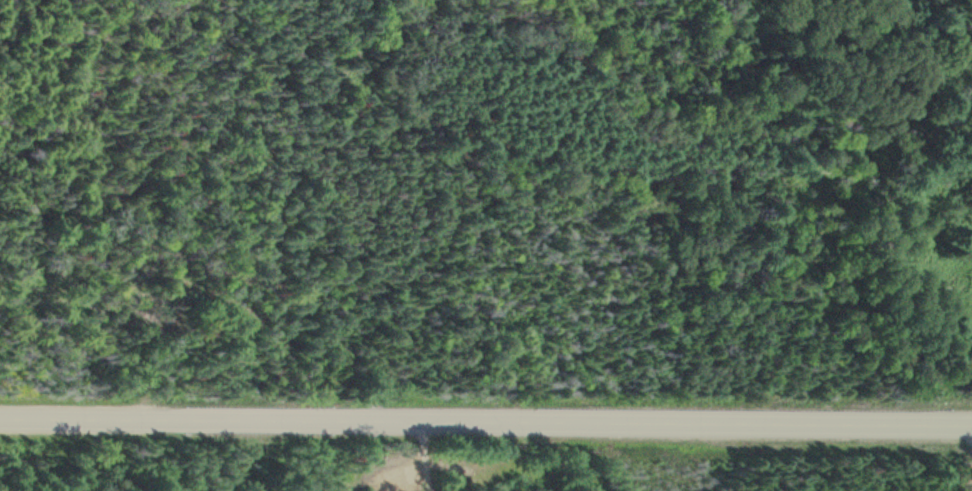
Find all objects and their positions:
road: (486, 422)
building: (456, 479)

